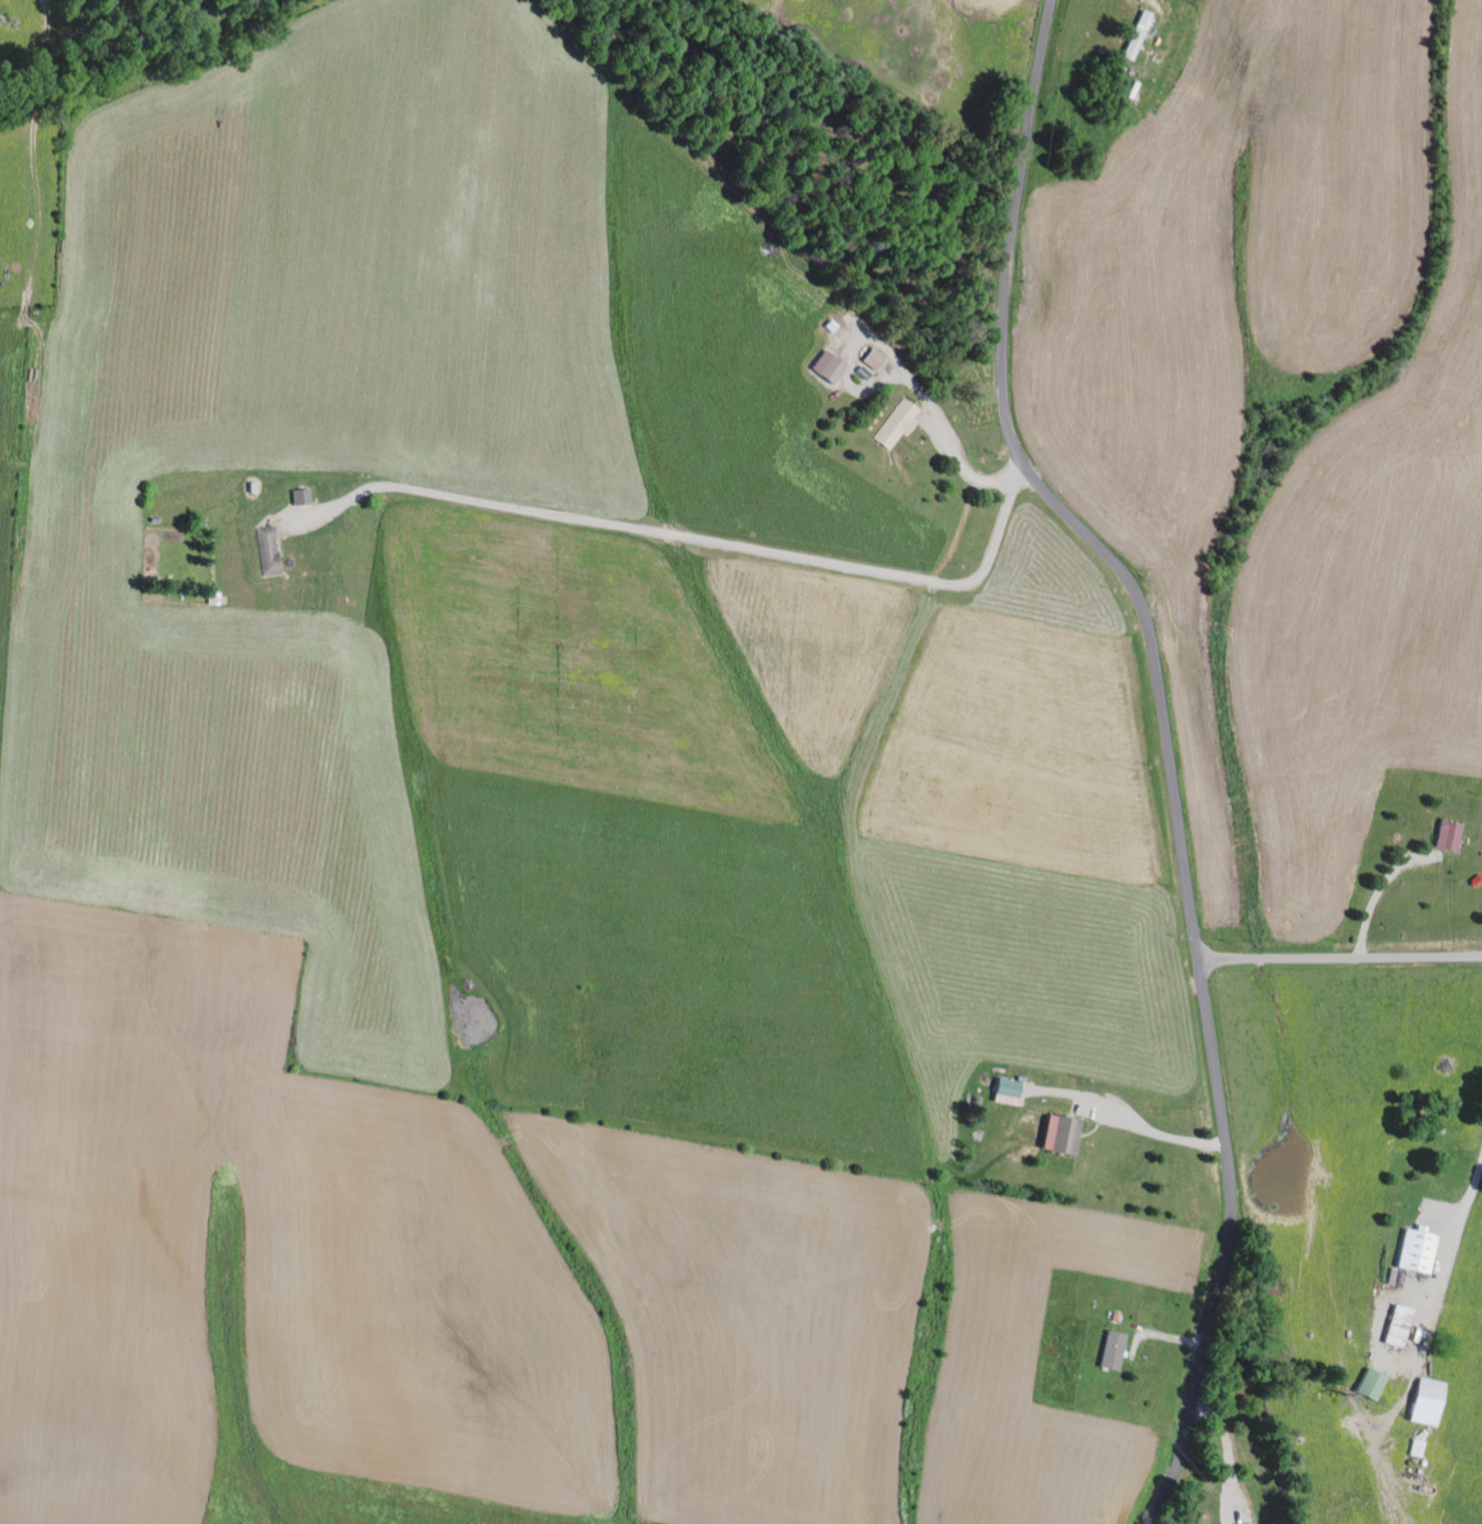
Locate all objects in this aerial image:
building: (1136, 35)
building: (871, 359)
building: (826, 367)
road: (930, 406)
building: (896, 425)
building: (299, 497)
road: (694, 539)
building: (266, 551)
road: (1167, 743)
building: (1446, 836)
road: (1377, 895)
road: (1340, 960)
building: (1006, 1091)
road: (1152, 1131)
building: (1060, 1134)
building: (1415, 1251)
road: (1447, 1259)
building: (1396, 1325)
building: (1111, 1350)
building: (1369, 1384)
building: (1425, 1402)
road: (1227, 1450)
building: (1247, 1523)

